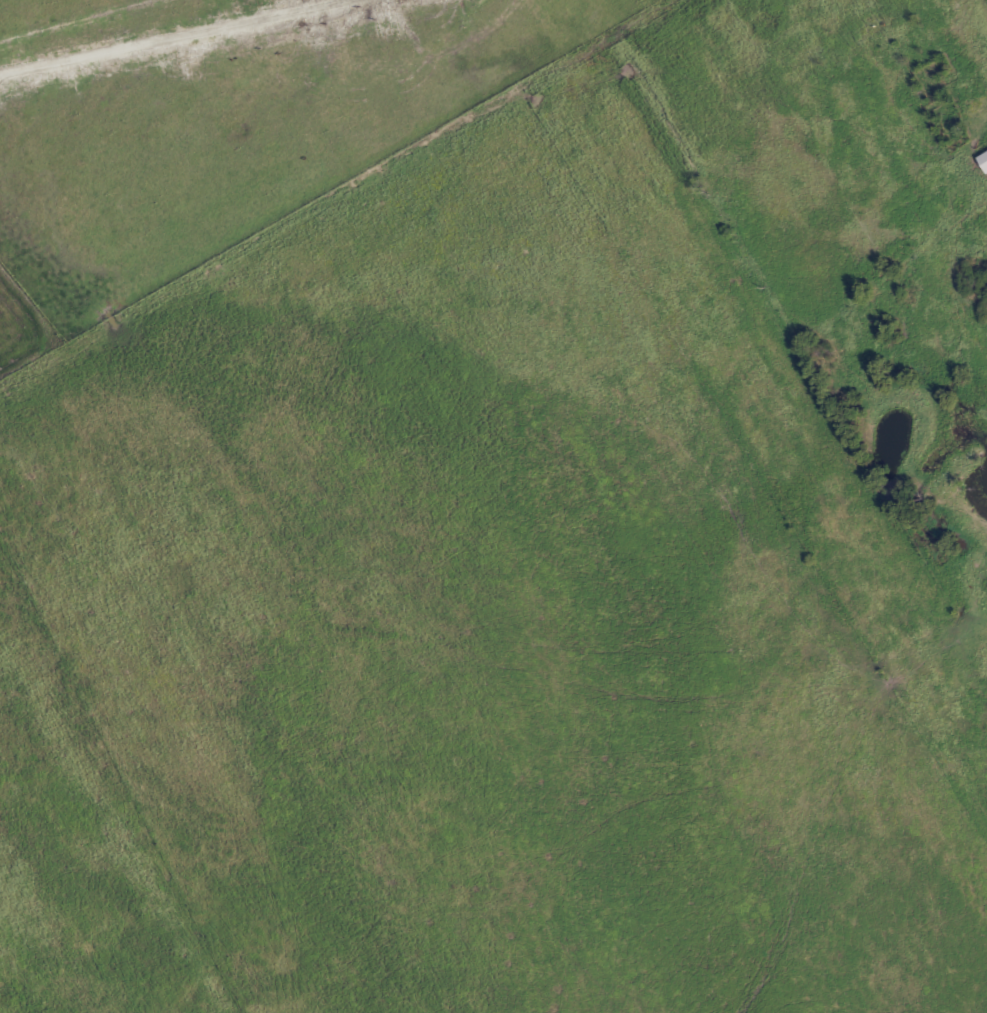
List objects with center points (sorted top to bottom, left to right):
road: (175, 36)
building: (983, 160)

